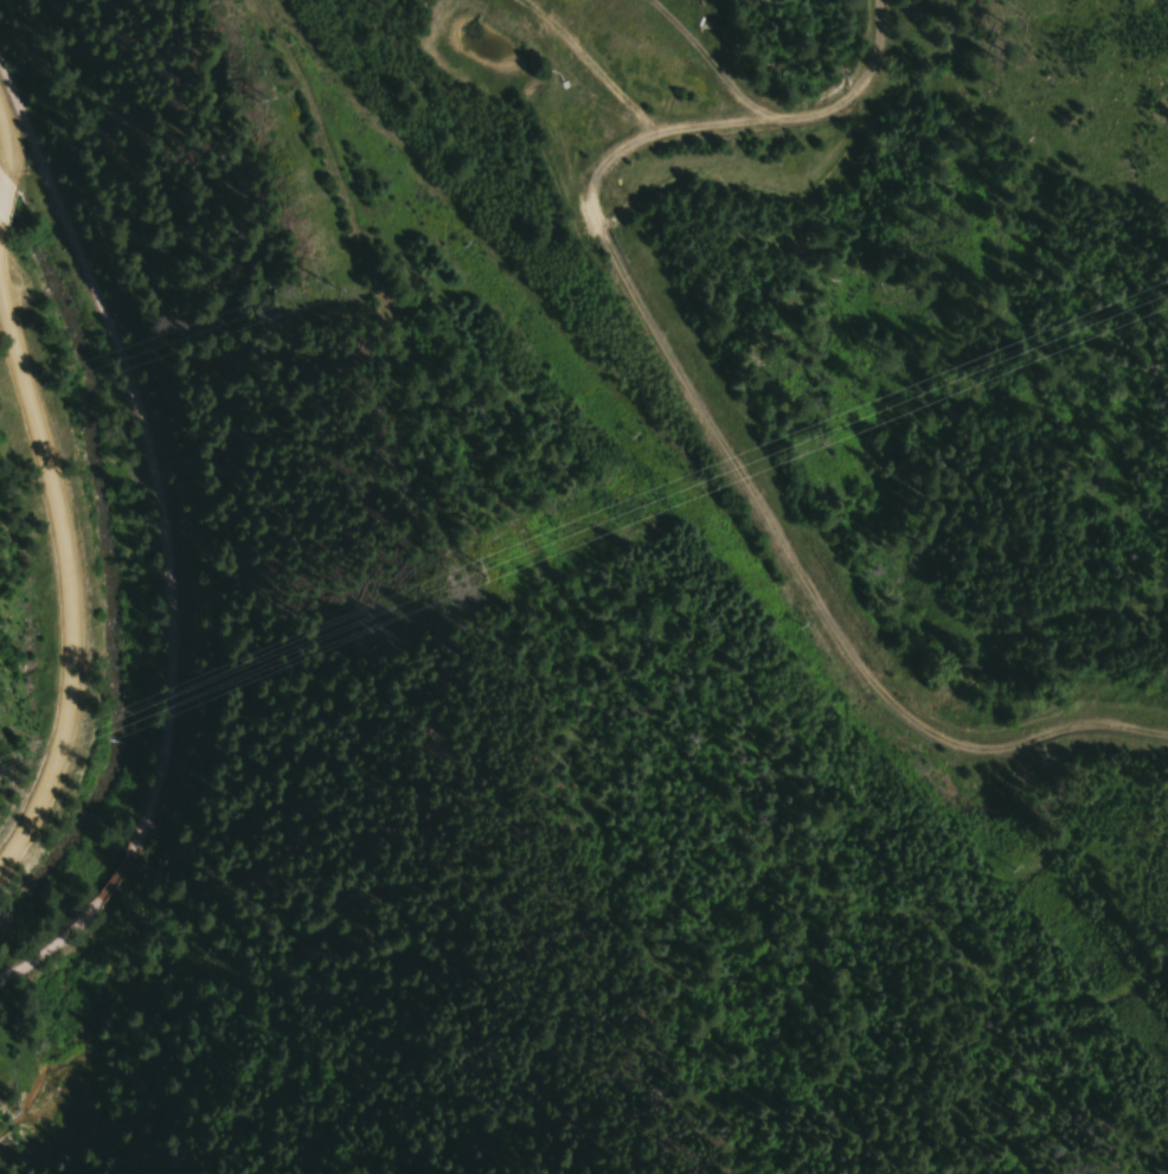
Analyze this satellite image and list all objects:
road: (8, 139)
road: (7, 205)
road: (160, 540)
road: (66, 556)

